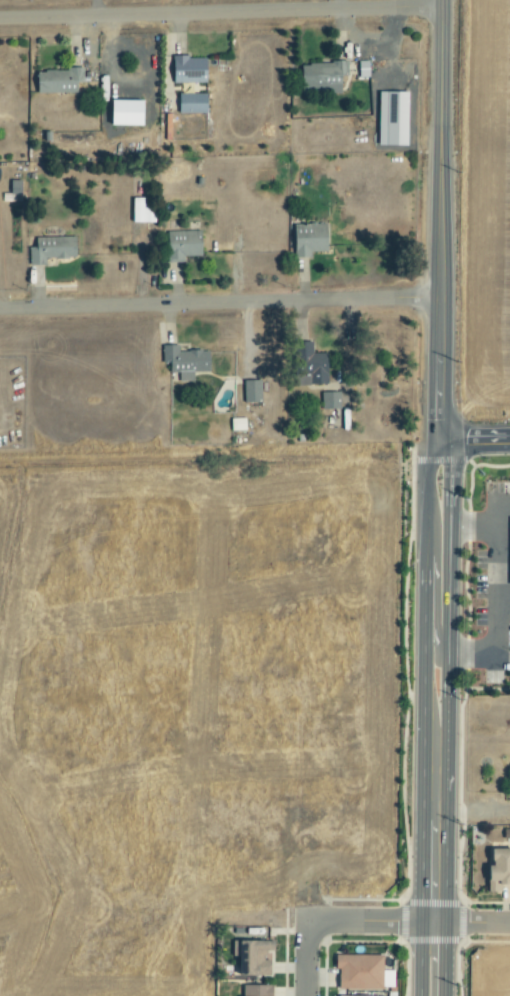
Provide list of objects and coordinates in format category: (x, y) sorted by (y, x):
road: (93, 8)
road: (220, 13)
building: (187, 69)
building: (322, 75)
building: (56, 80)
building: (188, 88)
building: (190, 103)
building: (390, 118)
building: (14, 190)
road: (440, 220)
building: (308, 239)
building: (181, 245)
building: (49, 249)
road: (219, 303)
building: (184, 362)
building: (307, 366)
building: (251, 391)
building: (329, 400)
building: (237, 424)
road: (474, 440)
road: (473, 528)
road: (425, 595)
road: (448, 595)
road: (497, 599)
road: (503, 600)
road: (434, 639)
road: (433, 834)
building: (497, 870)
road: (369, 921)
road: (471, 923)
road: (305, 951)
building: (251, 957)
road: (420, 957)
road: (443, 957)
building: (358, 972)
building: (256, 990)

